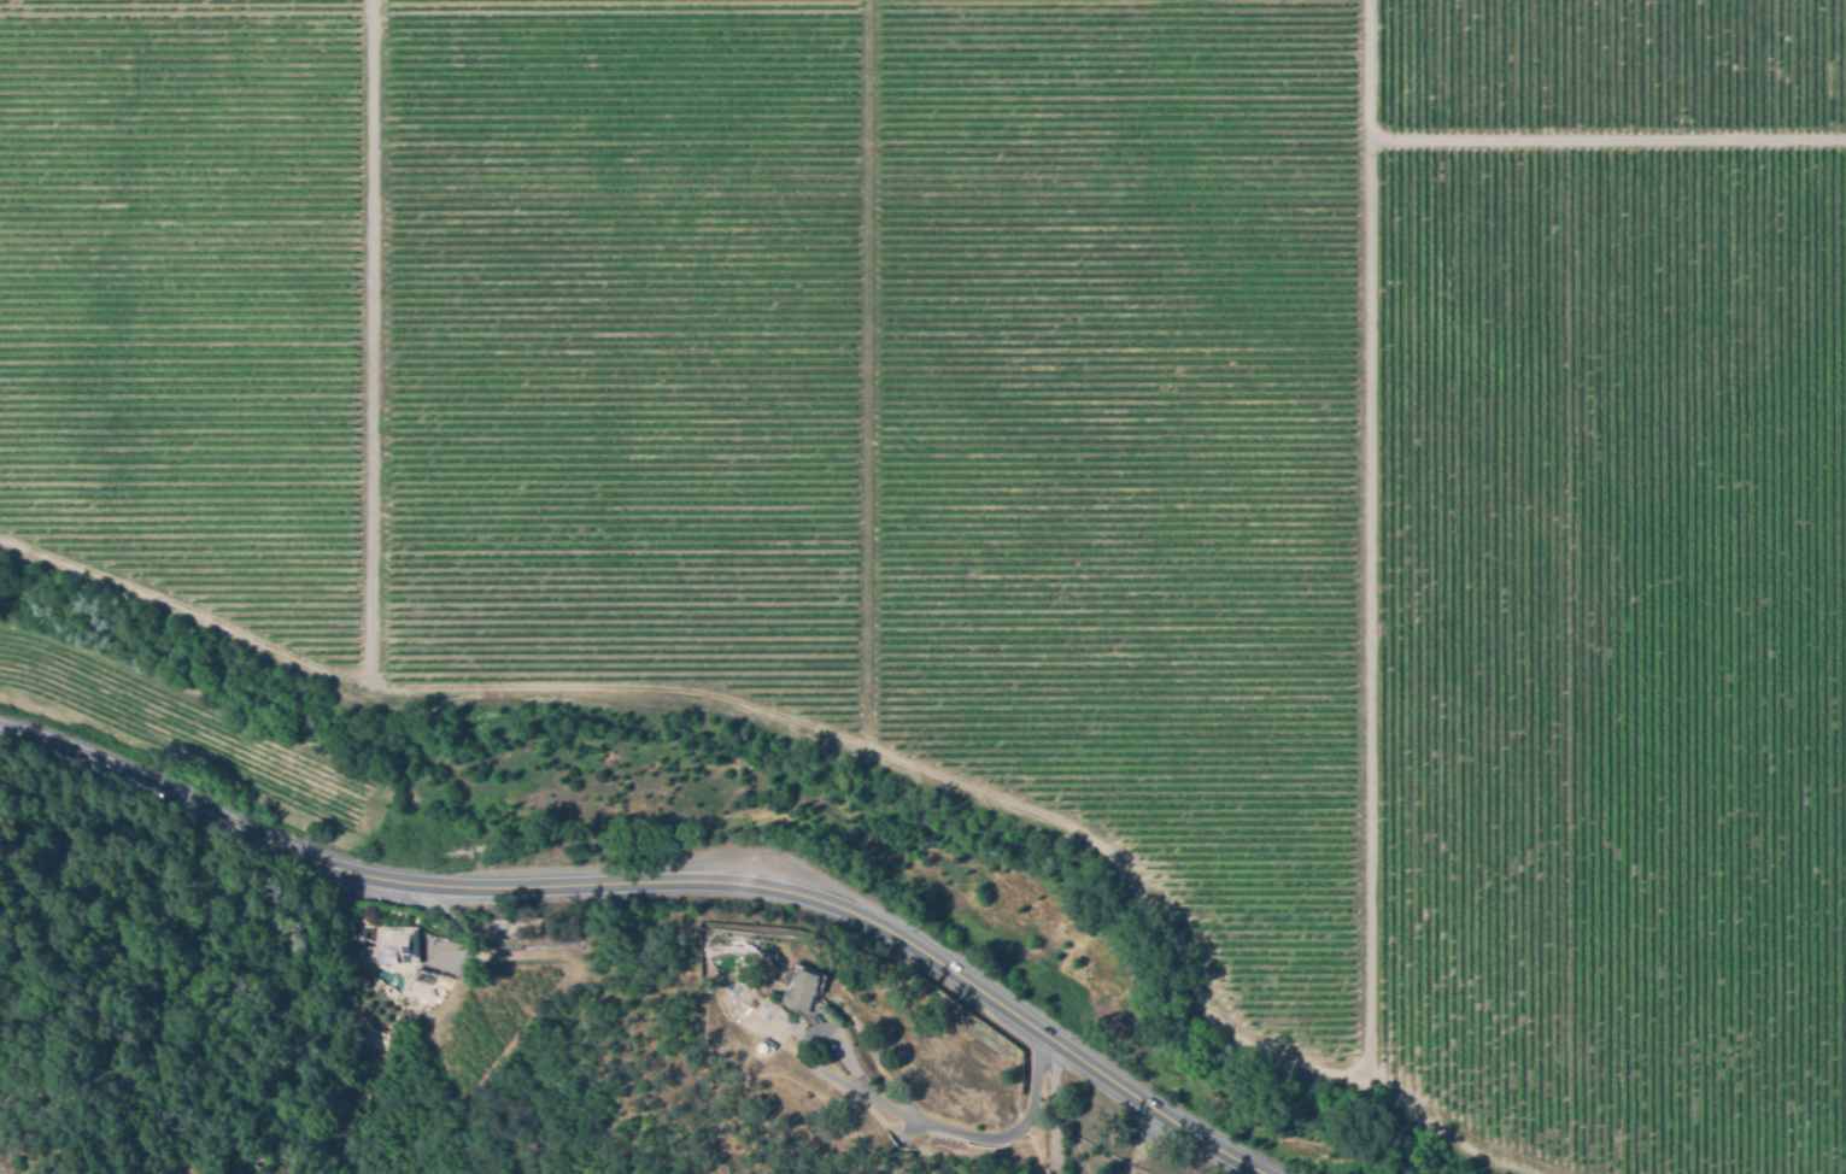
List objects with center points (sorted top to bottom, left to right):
road: (1370, 540)
road: (424, 683)
road: (868, 688)
road: (670, 881)
building: (393, 945)
building: (423, 975)
building: (802, 990)
building: (762, 999)
road: (825, 1072)
road: (966, 1137)
road: (1145, 1146)

